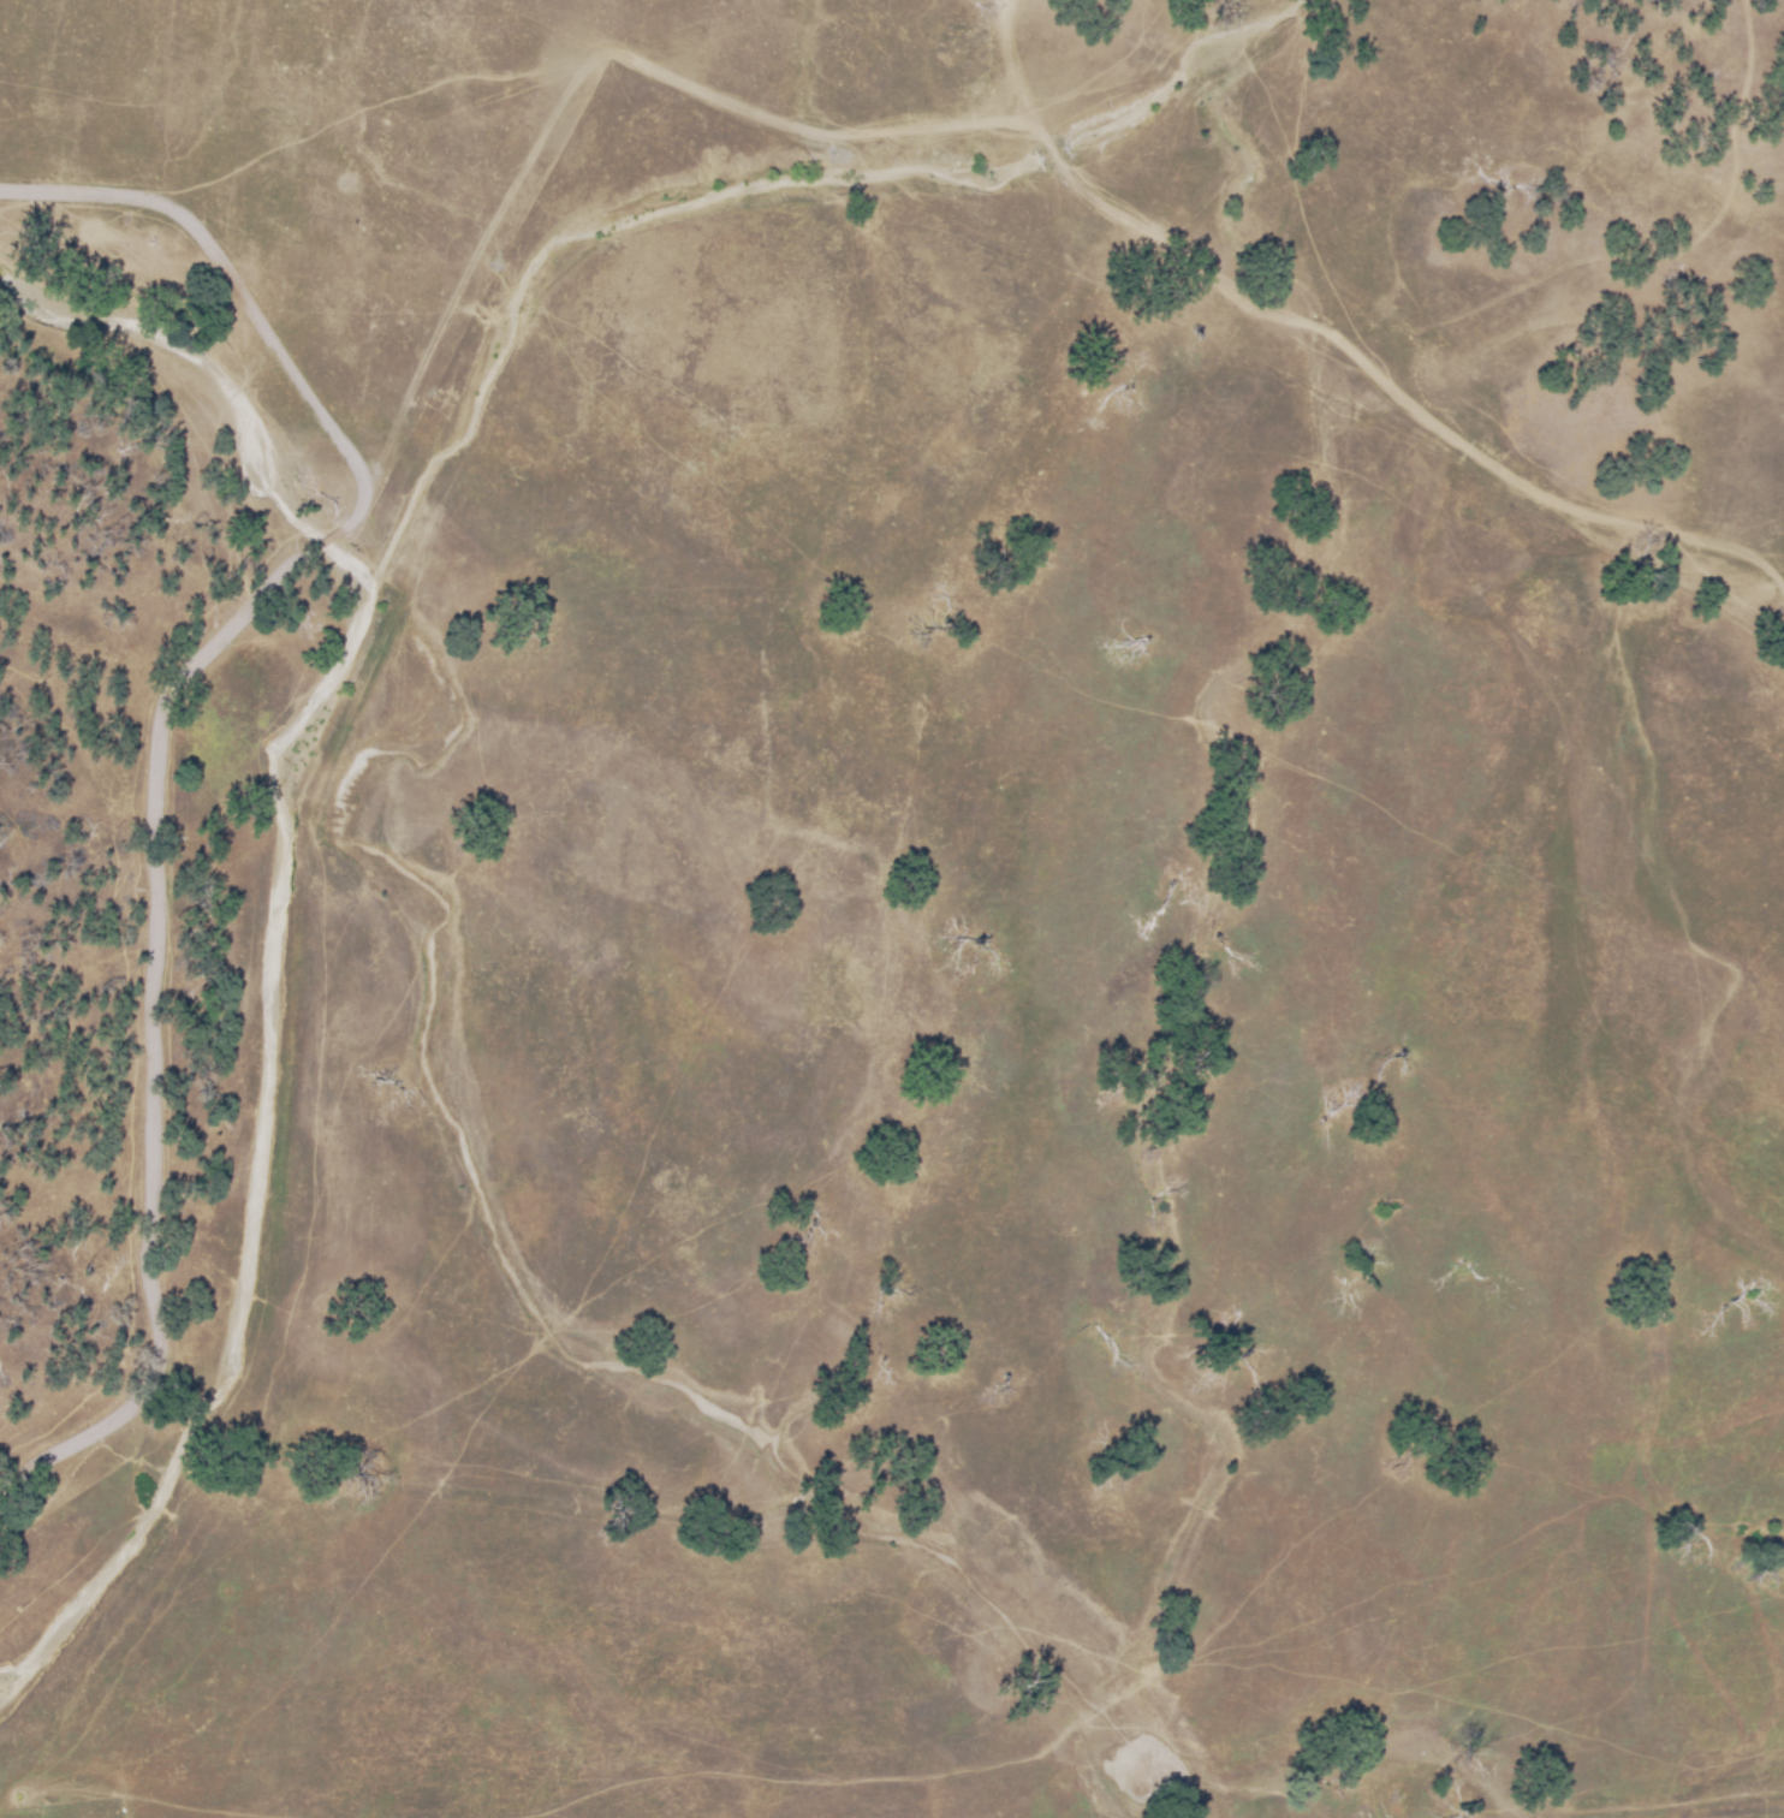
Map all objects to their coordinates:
road: (1007, 64)
road: (1178, 75)
road: (513, 177)
road: (226, 269)

